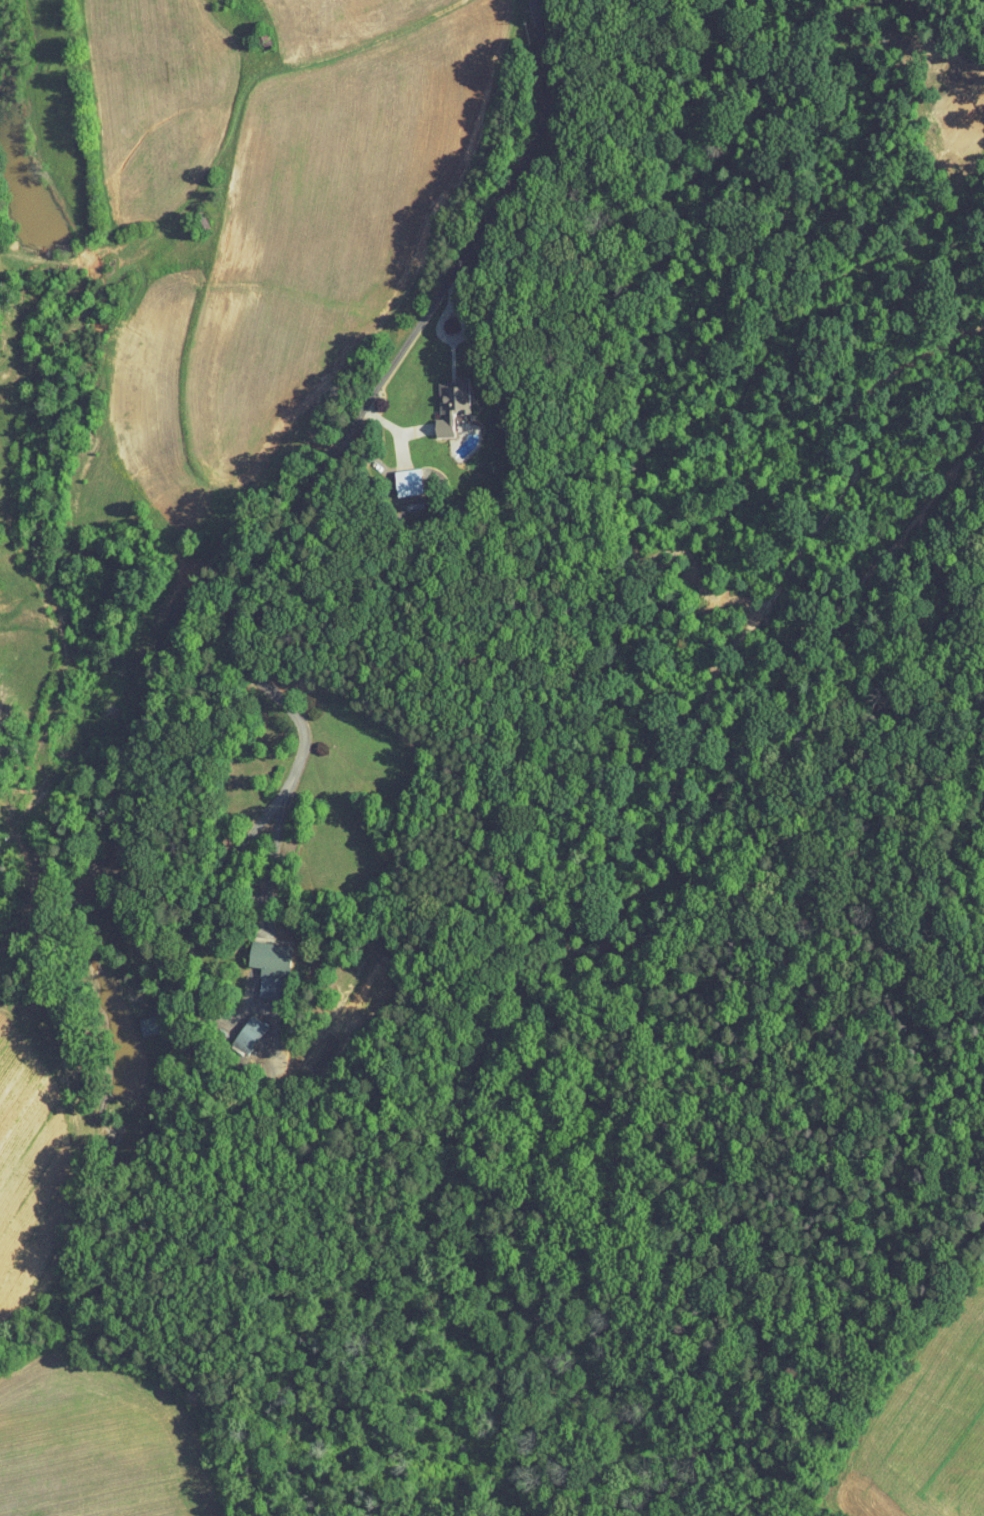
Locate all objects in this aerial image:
road: (536, 12)
building: (439, 400)
road: (323, 468)
building: (396, 476)
building: (258, 960)
building: (136, 1019)
building: (236, 1028)

